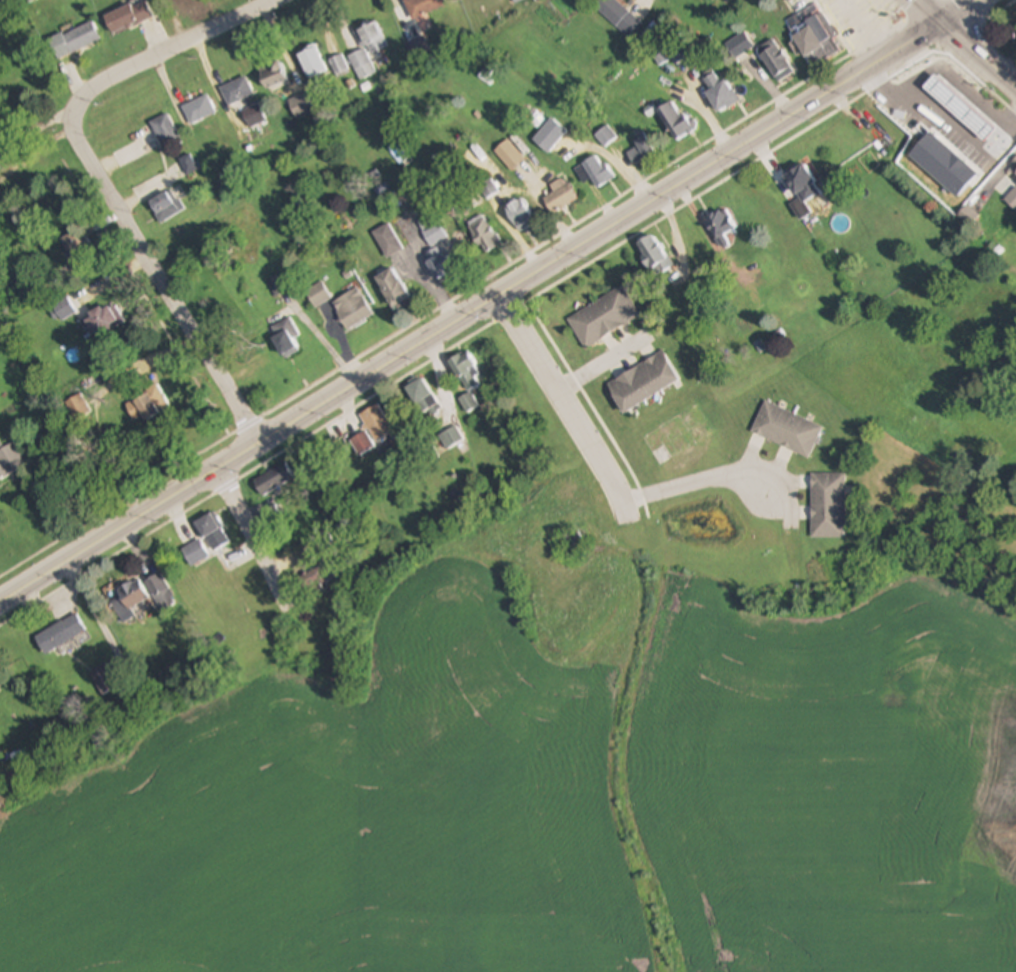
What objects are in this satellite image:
building: (789, 1)
building: (422, 7)
road: (925, 14)
building: (618, 15)
building: (128, 16)
park: (1003, 30)
building: (81, 37)
building: (807, 41)
building: (739, 46)
road: (174, 47)
building: (367, 50)
building: (774, 59)
road: (978, 60)
building: (312, 62)
building: (339, 66)
building: (273, 76)
building: (236, 91)
building: (719, 92)
building: (301, 107)
building: (199, 109)
building: (920, 115)
building: (253, 116)
building: (673, 119)
building: (164, 130)
building: (549, 135)
building: (639, 151)
building: (189, 164)
building: (36, 172)
building: (595, 172)
building: (1015, 175)
building: (801, 183)
building: (488, 188)
building: (560, 195)
building: (1012, 199)
building: (166, 205)
building: (520, 214)
building: (719, 222)
building: (431, 229)
building: (483, 233)
building: (387, 240)
building: (79, 243)
building: (653, 254)
building: (442, 260)
road: (159, 274)
building: (393, 289)
building: (318, 294)
road: (493, 300)
building: (352, 308)
building: (64, 309)
building: (603, 317)
building: (101, 321)
building: (284, 337)
building: (465, 371)
building: (643, 382)
building: (421, 396)
building: (151, 402)
road: (568, 406)
building: (376, 422)
building: (787, 429)
building: (450, 438)
building: (362, 443)
building: (10, 460)
road: (704, 478)
building: (273, 480)
building: (828, 506)
building: (207, 525)
road: (251, 535)
building: (576, 544)
building: (194, 553)
building: (317, 578)
building: (160, 592)
building: (127, 600)
building: (59, 634)
building: (102, 679)

